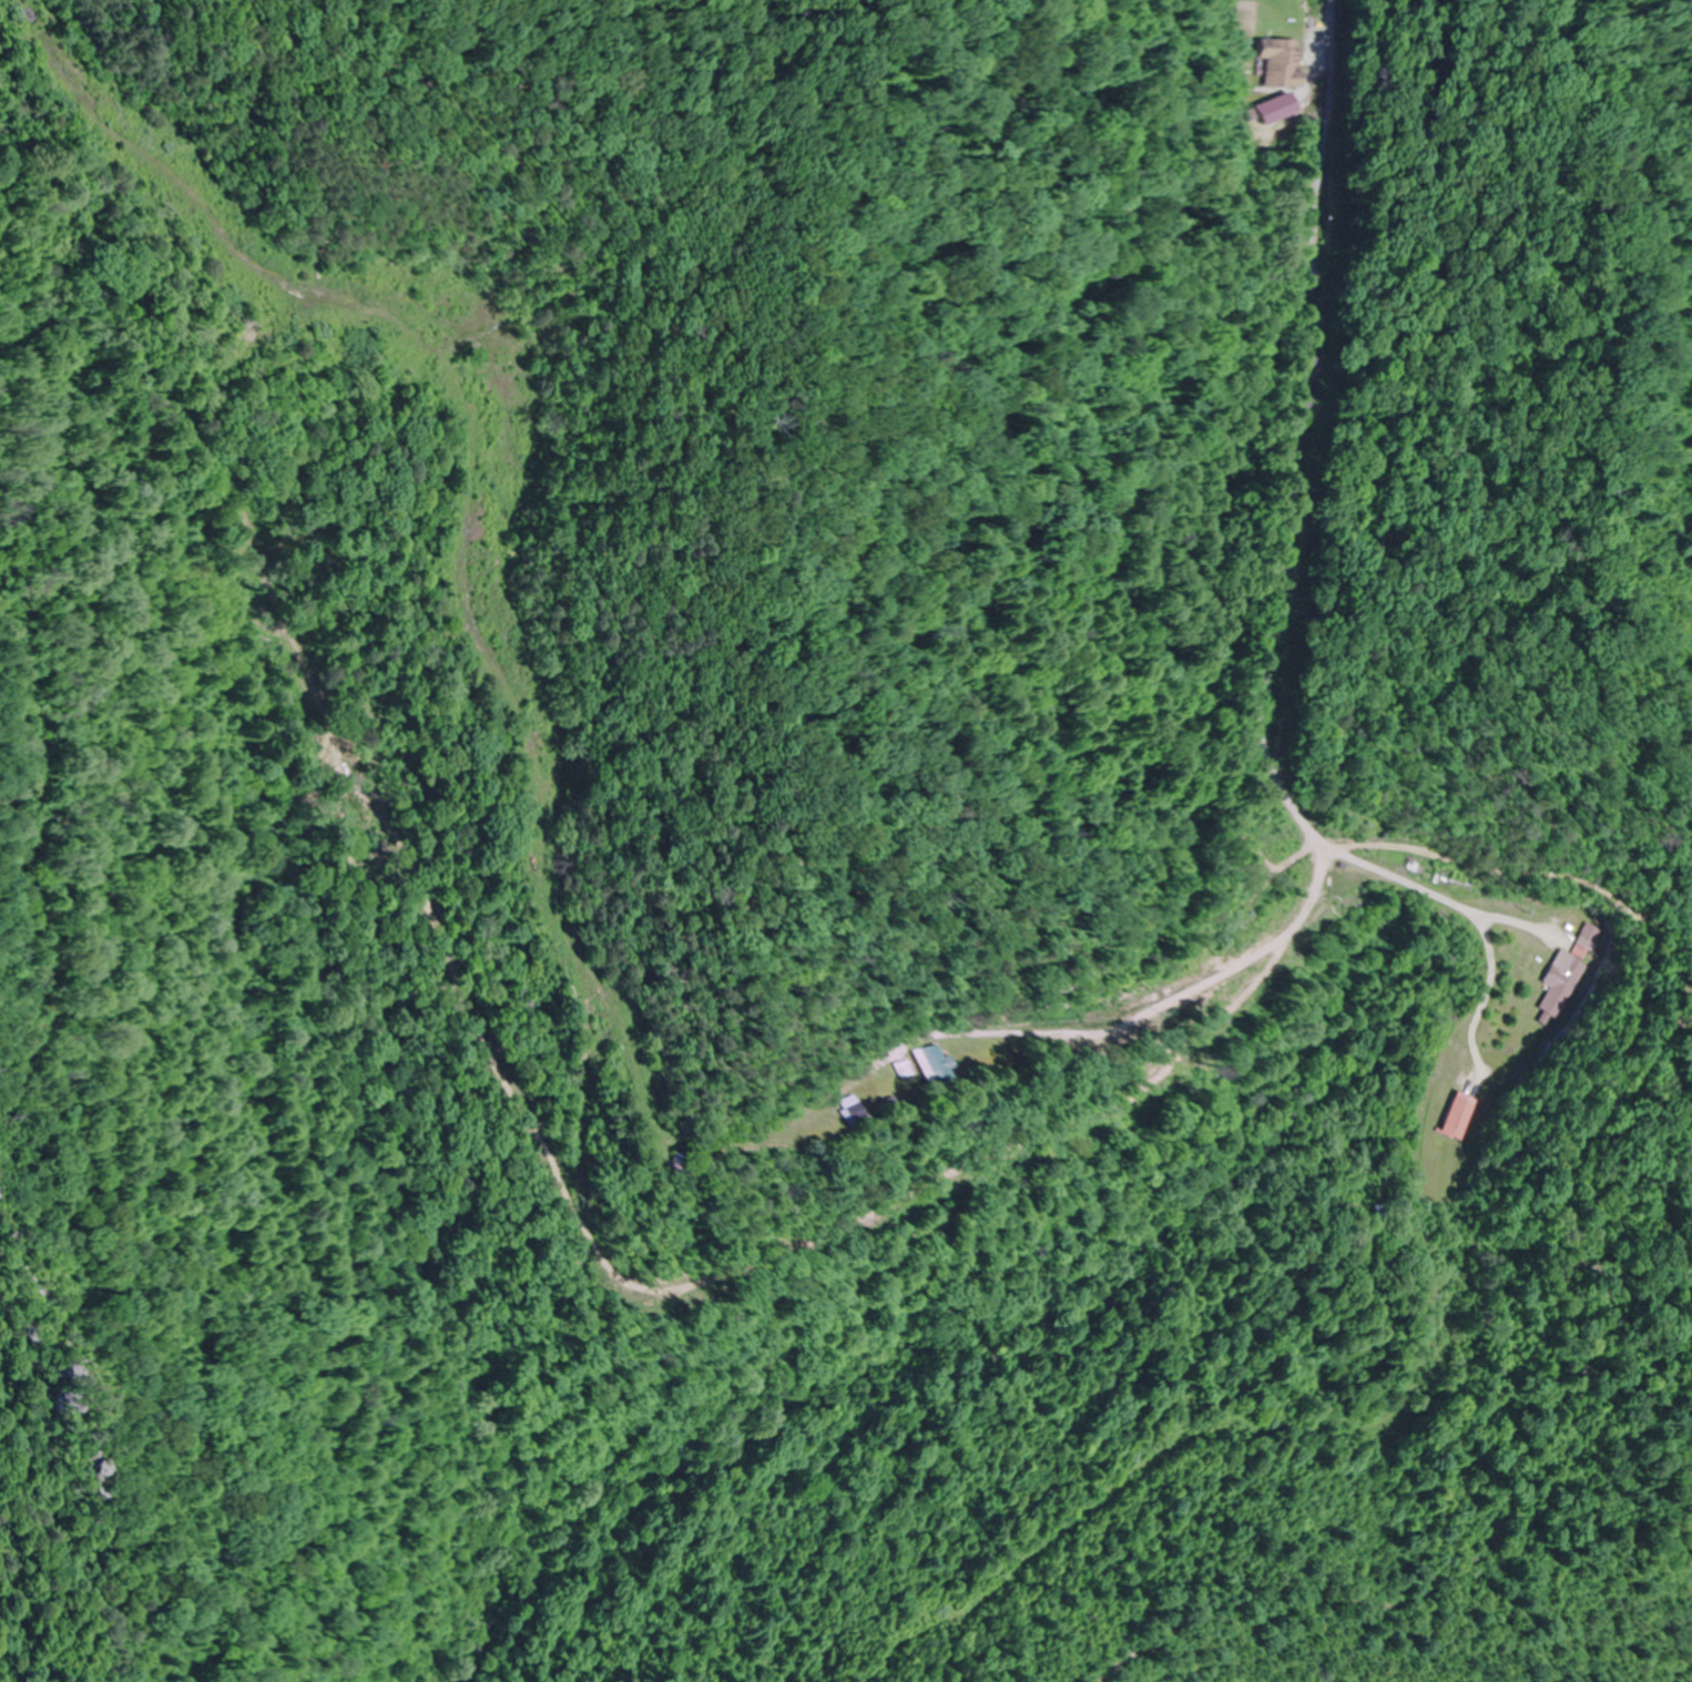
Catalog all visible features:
building: (1281, 62)
road: (1263, 702)
road: (1066, 782)
road: (1530, 911)
building: (1589, 942)
building: (1561, 987)
building: (923, 1068)
building: (843, 1113)
building: (1455, 1118)
building: (663, 1166)
building: (1373, 1215)
road: (1232, 1302)

